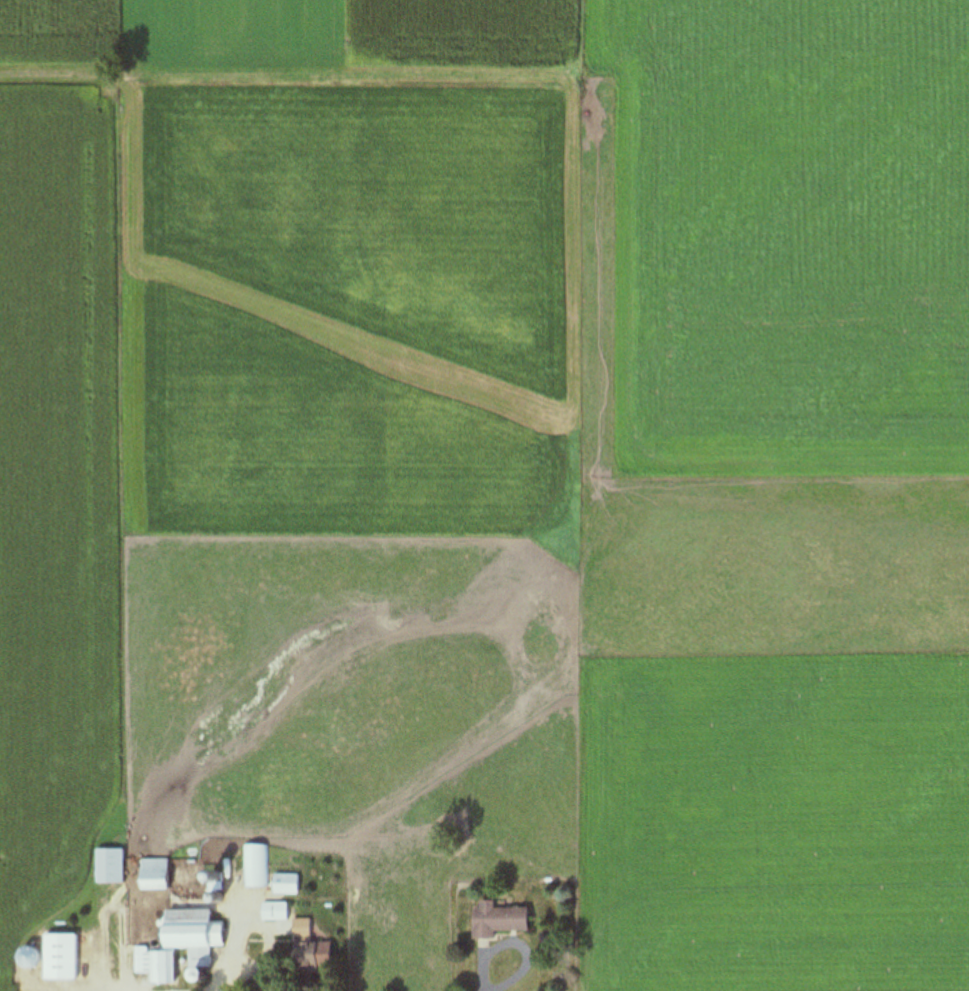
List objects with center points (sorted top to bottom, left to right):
building: (108, 866)
building: (256, 866)
building: (153, 874)
building: (285, 884)
building: (274, 911)
building: (495, 920)
building: (301, 928)
building: (177, 941)
building: (309, 956)
building: (58, 957)

